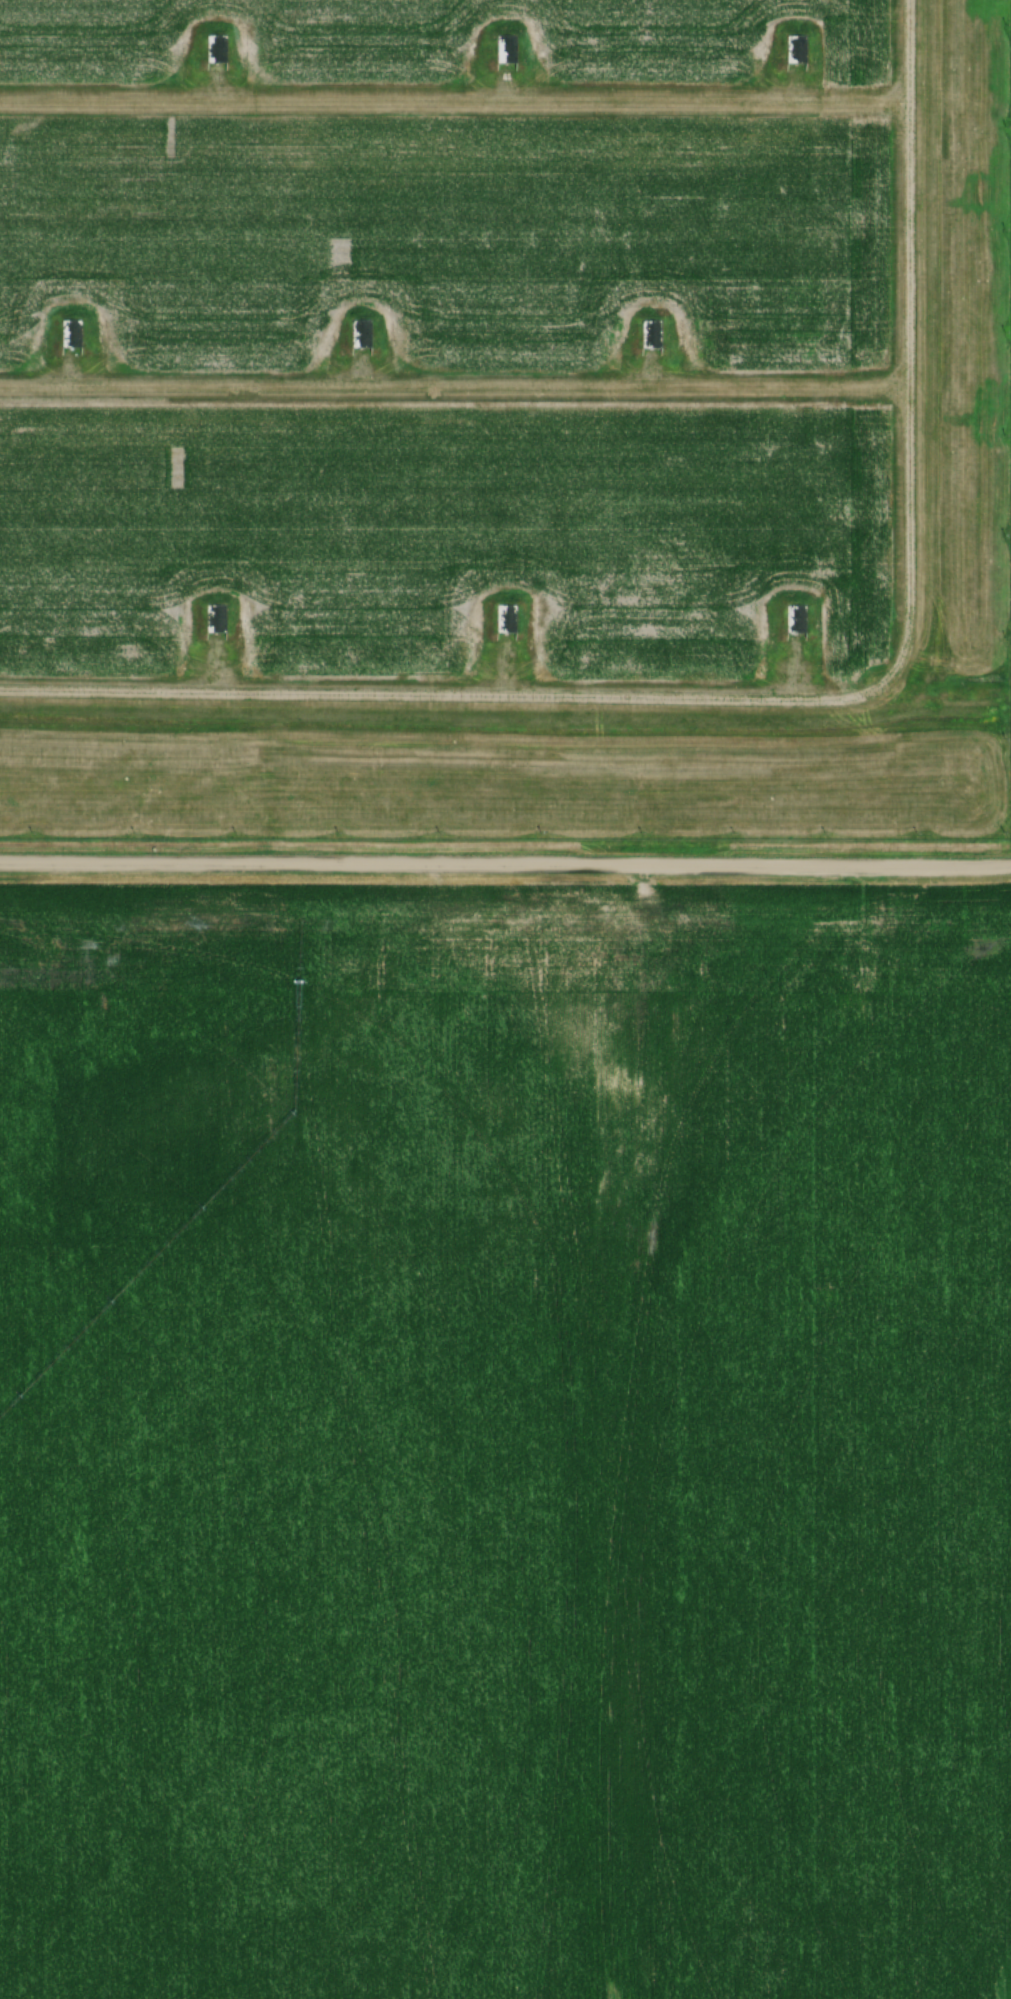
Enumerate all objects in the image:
building: (215, 49)
building: (505, 49)
building: (795, 50)
road: (454, 97)
building: (650, 332)
building: (70, 333)
building: (360, 333)
road: (451, 384)
building: (214, 618)
building: (505, 618)
building: (795, 618)
road: (787, 697)
road: (505, 862)

